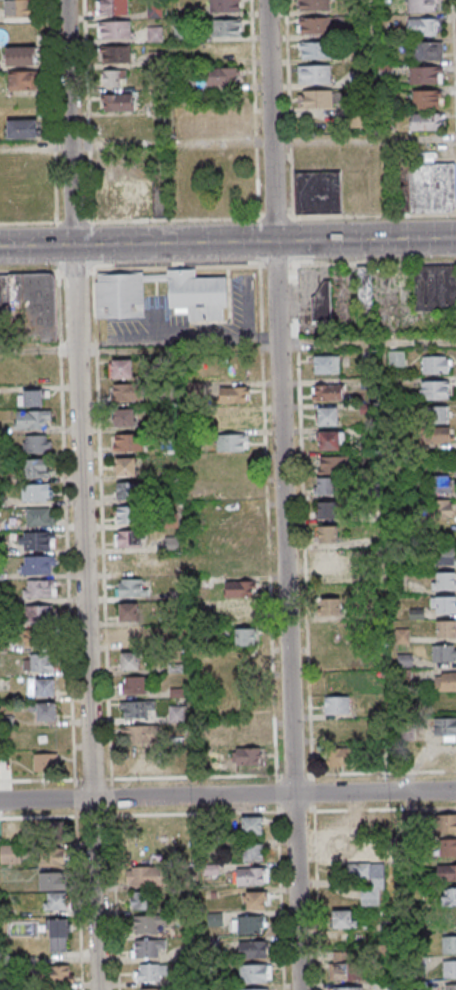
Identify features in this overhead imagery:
building: (313, 4)
building: (224, 5)
building: (422, 5)
building: (113, 7)
building: (19, 8)
building: (314, 25)
building: (424, 26)
building: (226, 27)
building: (114, 29)
building: (154, 34)
building: (314, 50)
building: (426, 50)
building: (115, 53)
building: (21, 55)
building: (314, 73)
building: (426, 74)
building: (222, 75)
building: (112, 77)
building: (23, 80)
building: (314, 98)
building: (427, 98)
building: (118, 103)
building: (359, 119)
building: (426, 121)
building: (223, 124)
building: (22, 128)
building: (117, 128)
road: (228, 146)
building: (430, 187)
building: (319, 193)
building: (133, 199)
road: (227, 242)
building: (435, 287)
building: (364, 293)
building: (197, 295)
building: (119, 297)
building: (322, 302)
building: (31, 303)
road: (179, 339)
road: (367, 344)
road: (139, 350)
building: (396, 360)
building: (327, 364)
building: (435, 366)
building: (121, 368)
building: (126, 392)
building: (326, 392)
building: (434, 392)
building: (233, 395)
building: (30, 398)
building: (327, 416)
building: (436, 416)
building: (123, 418)
building: (31, 419)
building: (442, 436)
building: (329, 441)
building: (232, 442)
building: (35, 443)
building: (128, 443)
building: (333, 465)
building: (125, 467)
building: (33, 468)
building: (439, 484)
building: (326, 486)
building: (127, 491)
building: (35, 492)
road: (84, 494)
road: (286, 494)
building: (440, 509)
building: (326, 510)
building: (125, 515)
building: (39, 516)
building: (327, 534)
building: (129, 538)
building: (37, 541)
building: (442, 556)
building: (328, 558)
building: (38, 565)
building: (444, 580)
building: (133, 587)
building: (240, 588)
building: (39, 589)
building: (333, 604)
building: (443, 604)
building: (128, 612)
building: (238, 612)
building: (38, 614)
building: (445, 628)
building: (130, 636)
building: (245, 636)
building: (38, 639)
building: (444, 653)
building: (130, 661)
building: (39, 663)
building: (238, 663)
building: (445, 681)
building: (134, 686)
building: (45, 688)
building: (336, 705)
building: (137, 710)
building: (44, 711)
building: (176, 715)
building: (444, 728)
building: (244, 734)
building: (139, 735)
building: (246, 757)
building: (340, 757)
building: (45, 762)
road: (227, 795)
building: (445, 823)
building: (252, 825)
building: (338, 826)
building: (445, 846)
building: (342, 847)
building: (253, 851)
building: (11, 856)
building: (49, 857)
building: (446, 872)
building: (251, 875)
building: (145, 877)
building: (53, 882)
building: (372, 885)
building: (449, 896)
building: (255, 900)
building: (141, 901)
building: (57, 902)
building: (343, 919)
building: (147, 924)
building: (249, 925)
building: (57, 936)
building: (449, 945)
building: (147, 948)
building: (252, 949)
building: (344, 967)
building: (449, 970)
building: (150, 972)
building: (255, 973)
building: (57, 977)
building: (450, 987)
building: (149, 988)
building: (347, 988)
building: (254, 989)

